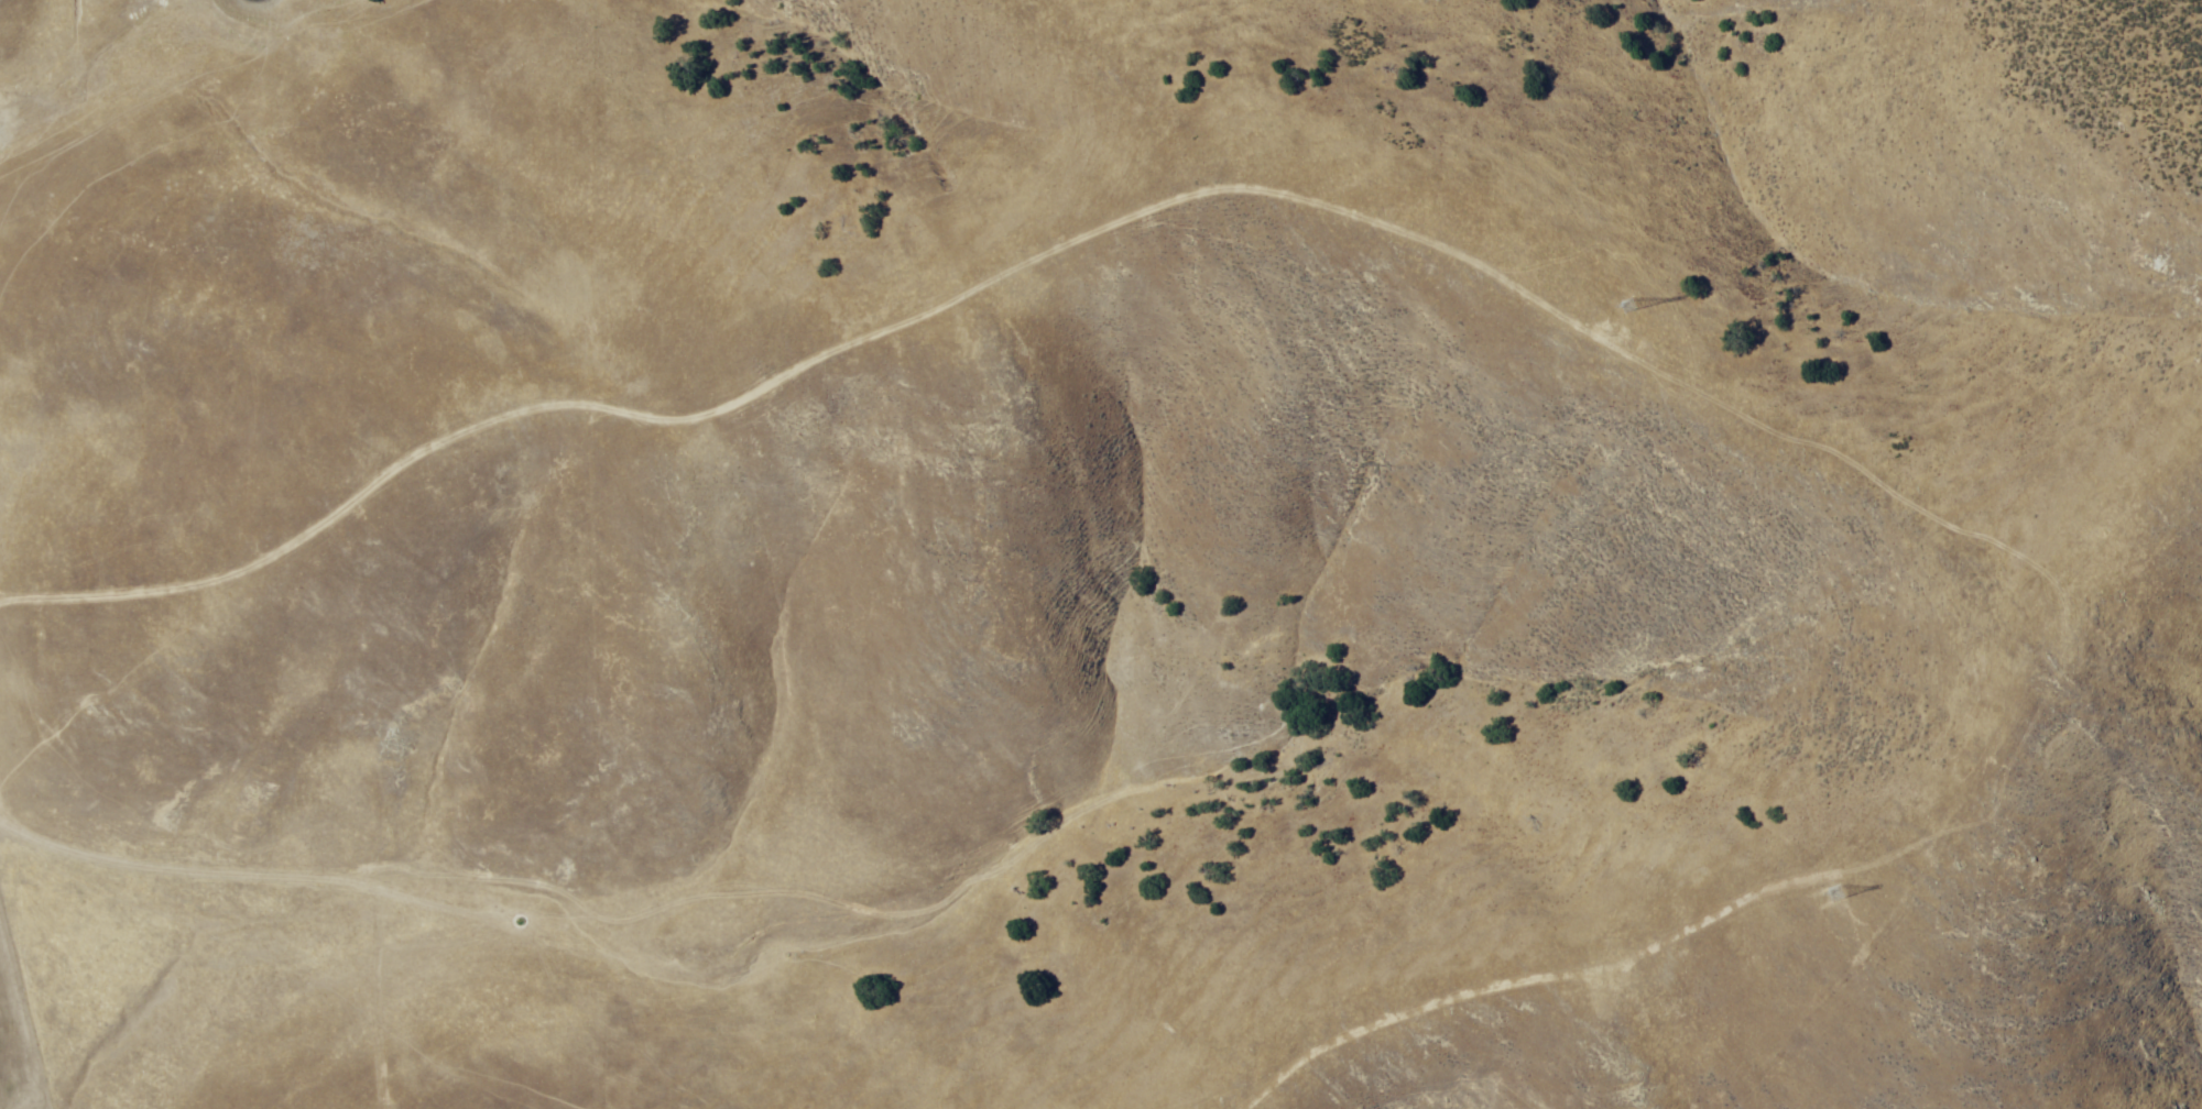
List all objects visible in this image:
road: (324, 3)
road: (980, 949)

